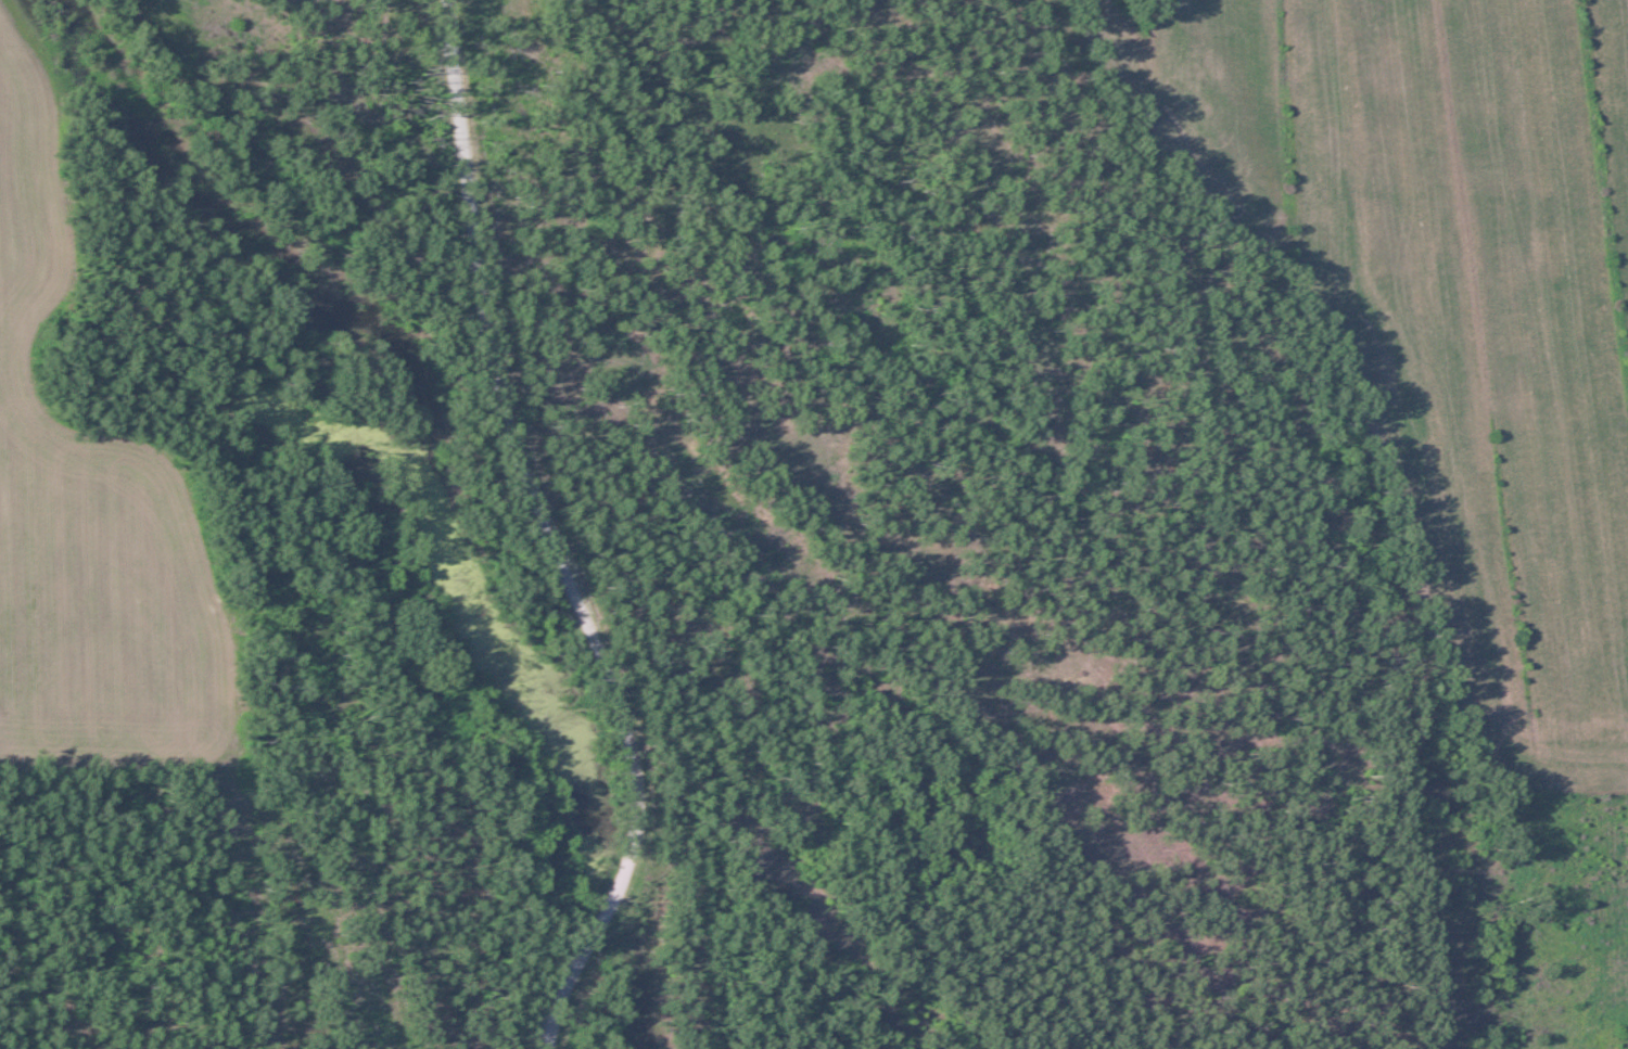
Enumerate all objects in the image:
road: (548, 535)

